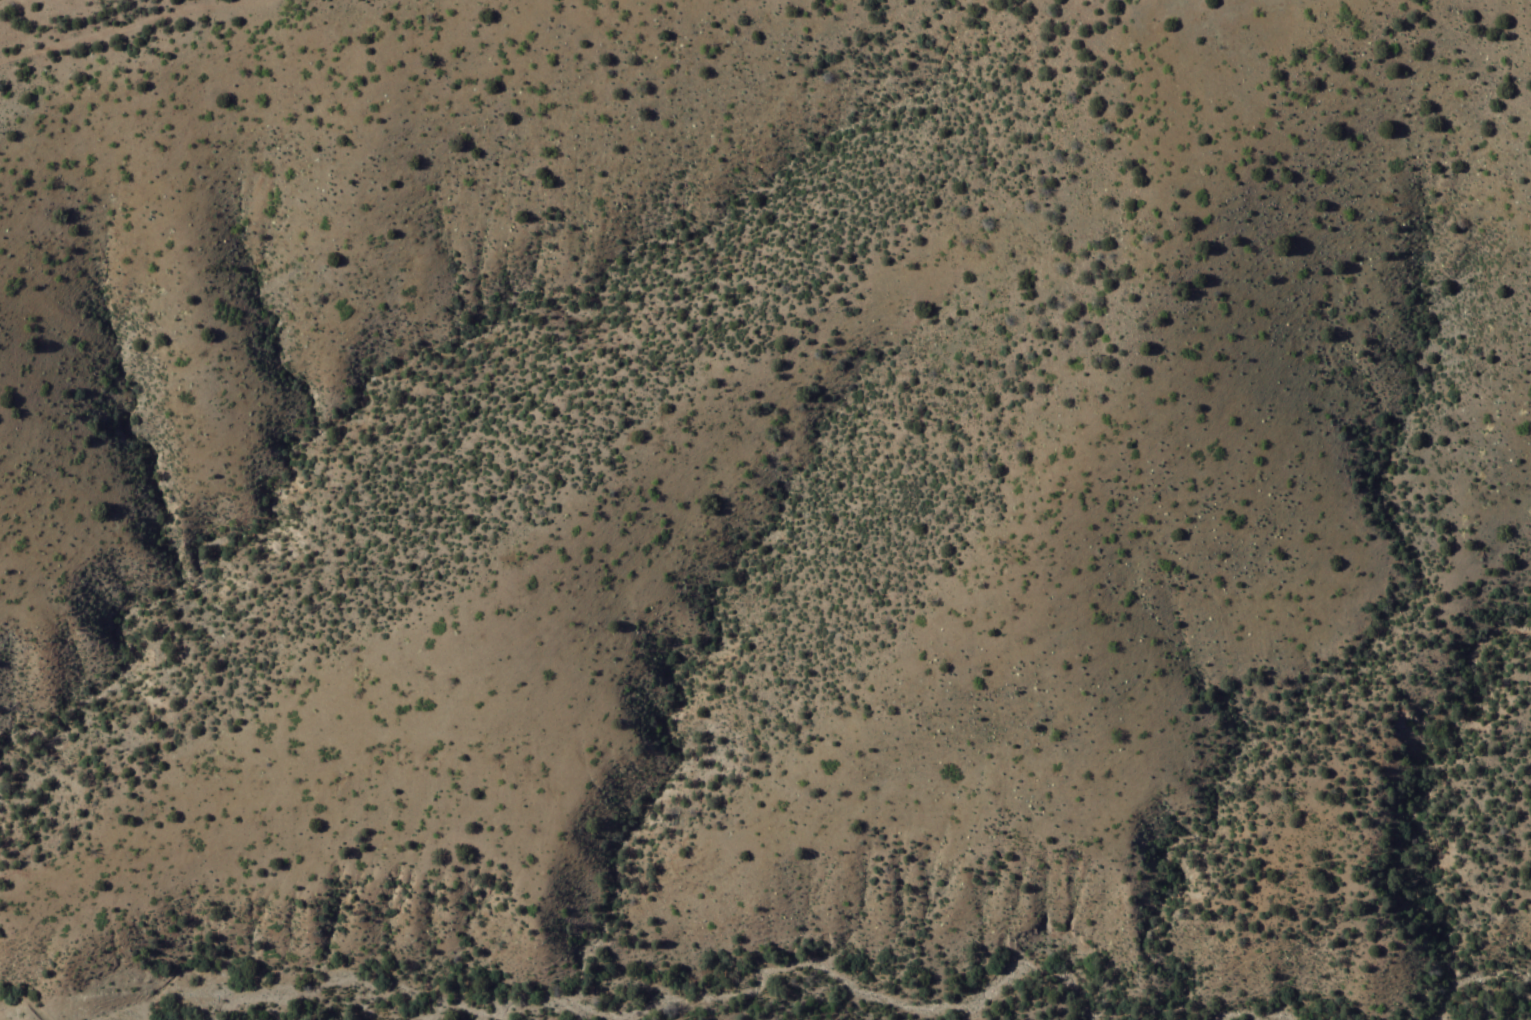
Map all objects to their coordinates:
road: (56, 33)

